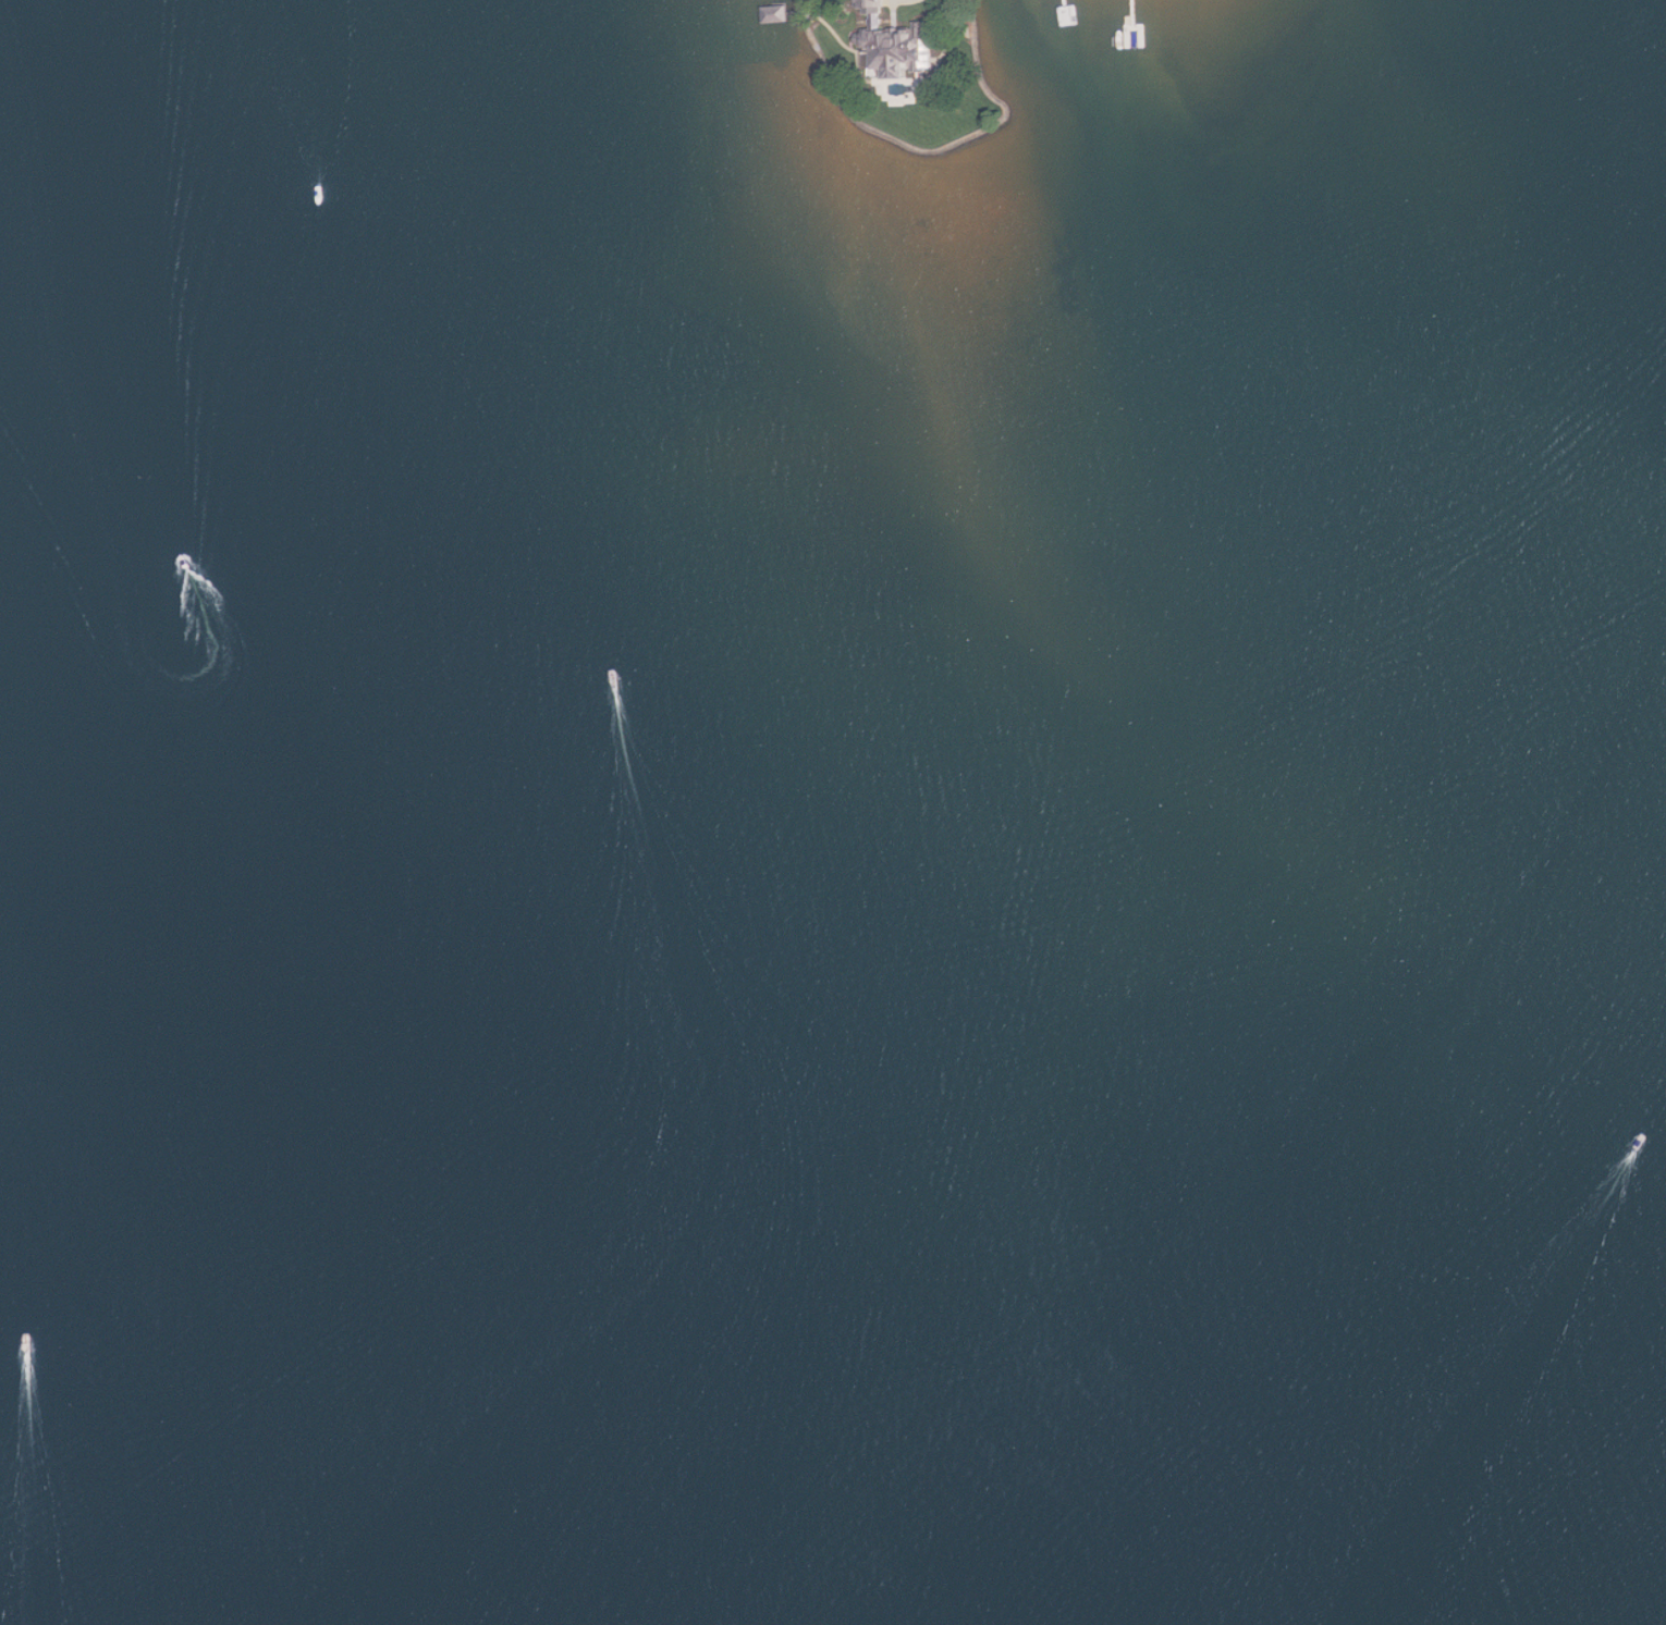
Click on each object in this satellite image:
building: (878, 5)
building: (894, 52)

